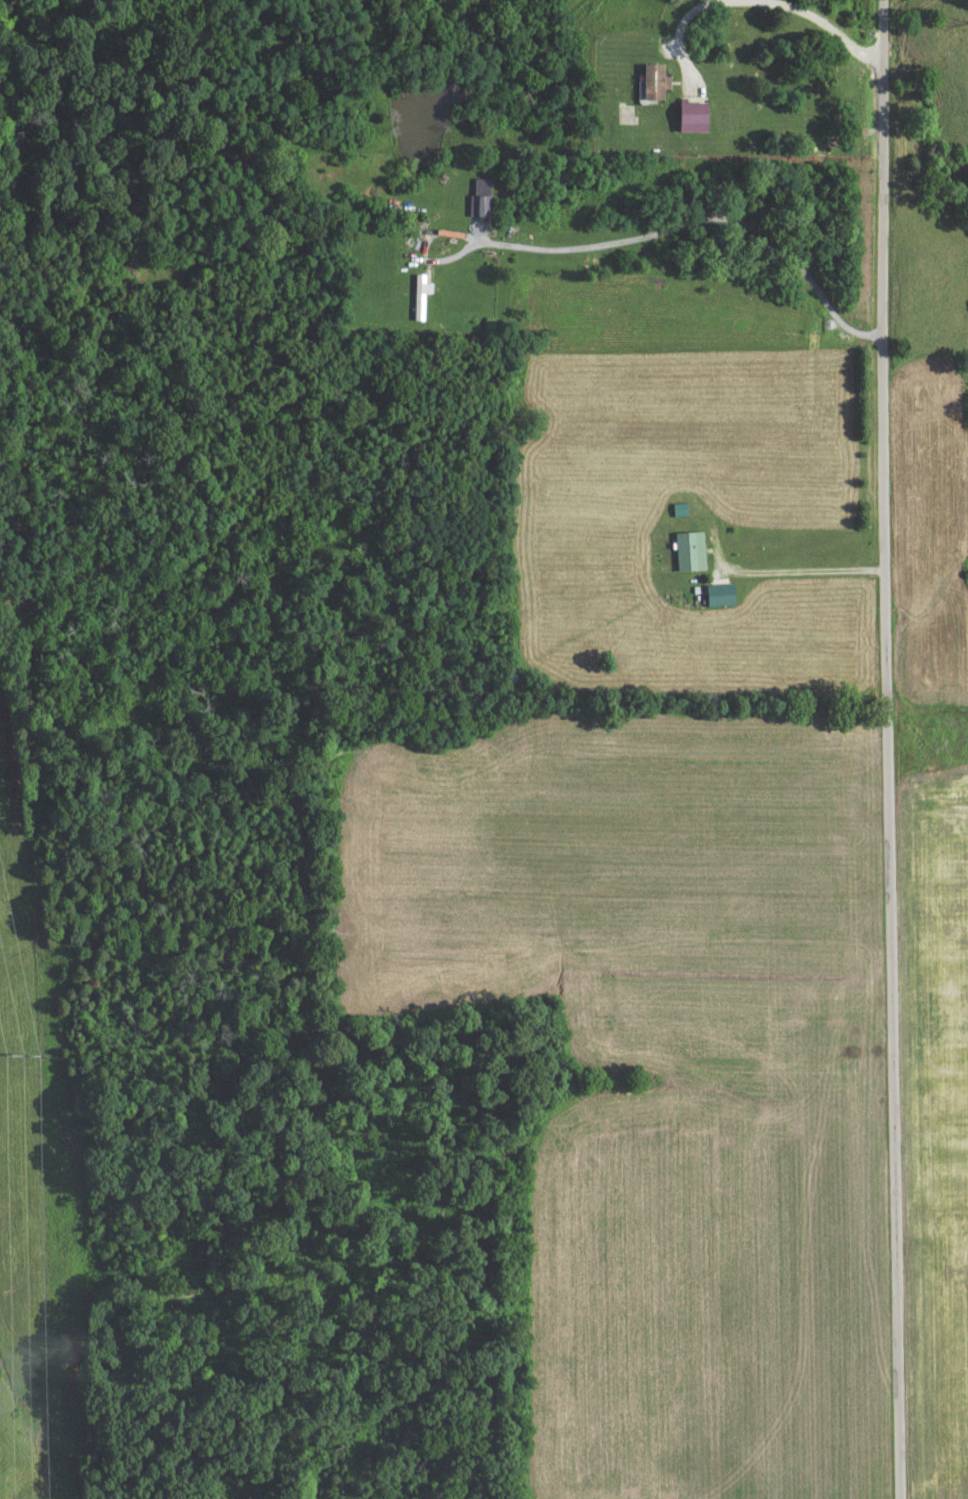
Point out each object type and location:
building: (647, 87)
building: (684, 122)
building: (475, 202)
building: (415, 301)
building: (683, 555)
building: (713, 599)
road: (887, 749)
road: (717, 996)
power tower: (23, 1056)

